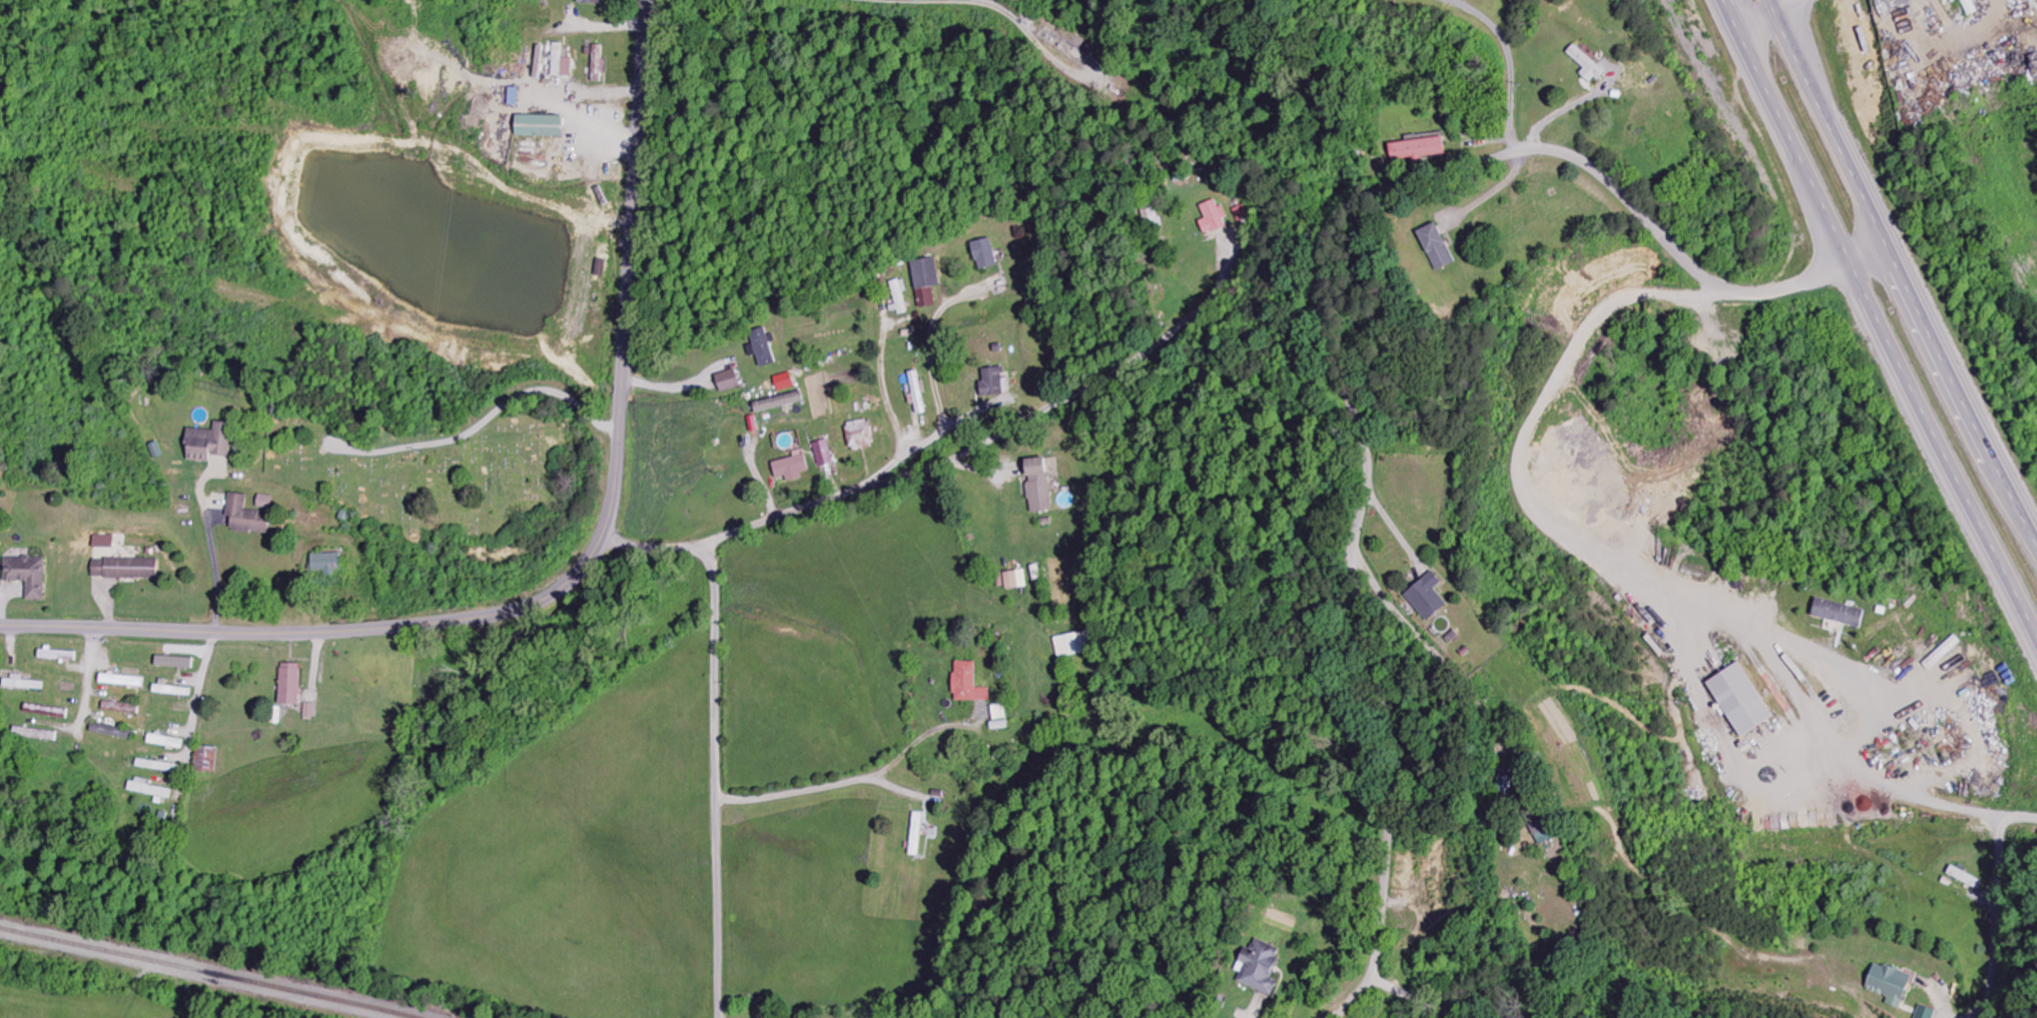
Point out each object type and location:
building: (1952, 0)
building: (587, 2)
building: (1969, 7)
road: (1768, 18)
building: (537, 62)
building: (559, 62)
building: (597, 63)
building: (1582, 64)
building: (537, 126)
building: (1418, 150)
building: (1153, 215)
building: (1212, 218)
building: (1431, 246)
building: (982, 254)
road: (1901, 267)
building: (925, 282)
building: (899, 298)
road: (1328, 315)
road: (1876, 318)
building: (762, 347)
building: (725, 381)
building: (782, 382)
building: (990, 383)
building: (915, 392)
building: (776, 402)
building: (859, 435)
building: (213, 442)
road: (980, 449)
building: (822, 453)
park: (438, 462)
building: (788, 467)
building: (1037, 484)
building: (253, 514)
building: (106, 542)
building: (331, 563)
building: (127, 569)
building: (30, 575)
road: (575, 575)
building: (1014, 579)
building: (1427, 597)
building: (1839, 613)
building: (1075, 644)
building: (178, 662)
building: (967, 683)
building: (26, 684)
building: (294, 684)
building: (1739, 700)
building: (312, 710)
building: (50, 711)
building: (999, 712)
building: (114, 732)
road: (718, 733)
building: (38, 734)
building: (168, 742)
building: (210, 759)
road: (853, 780)
building: (152, 789)
building: (1537, 832)
building: (914, 834)
building: (1964, 877)
building: (1257, 967)
railway: (208, 972)
building: (1889, 984)
building: (1924, 1012)

